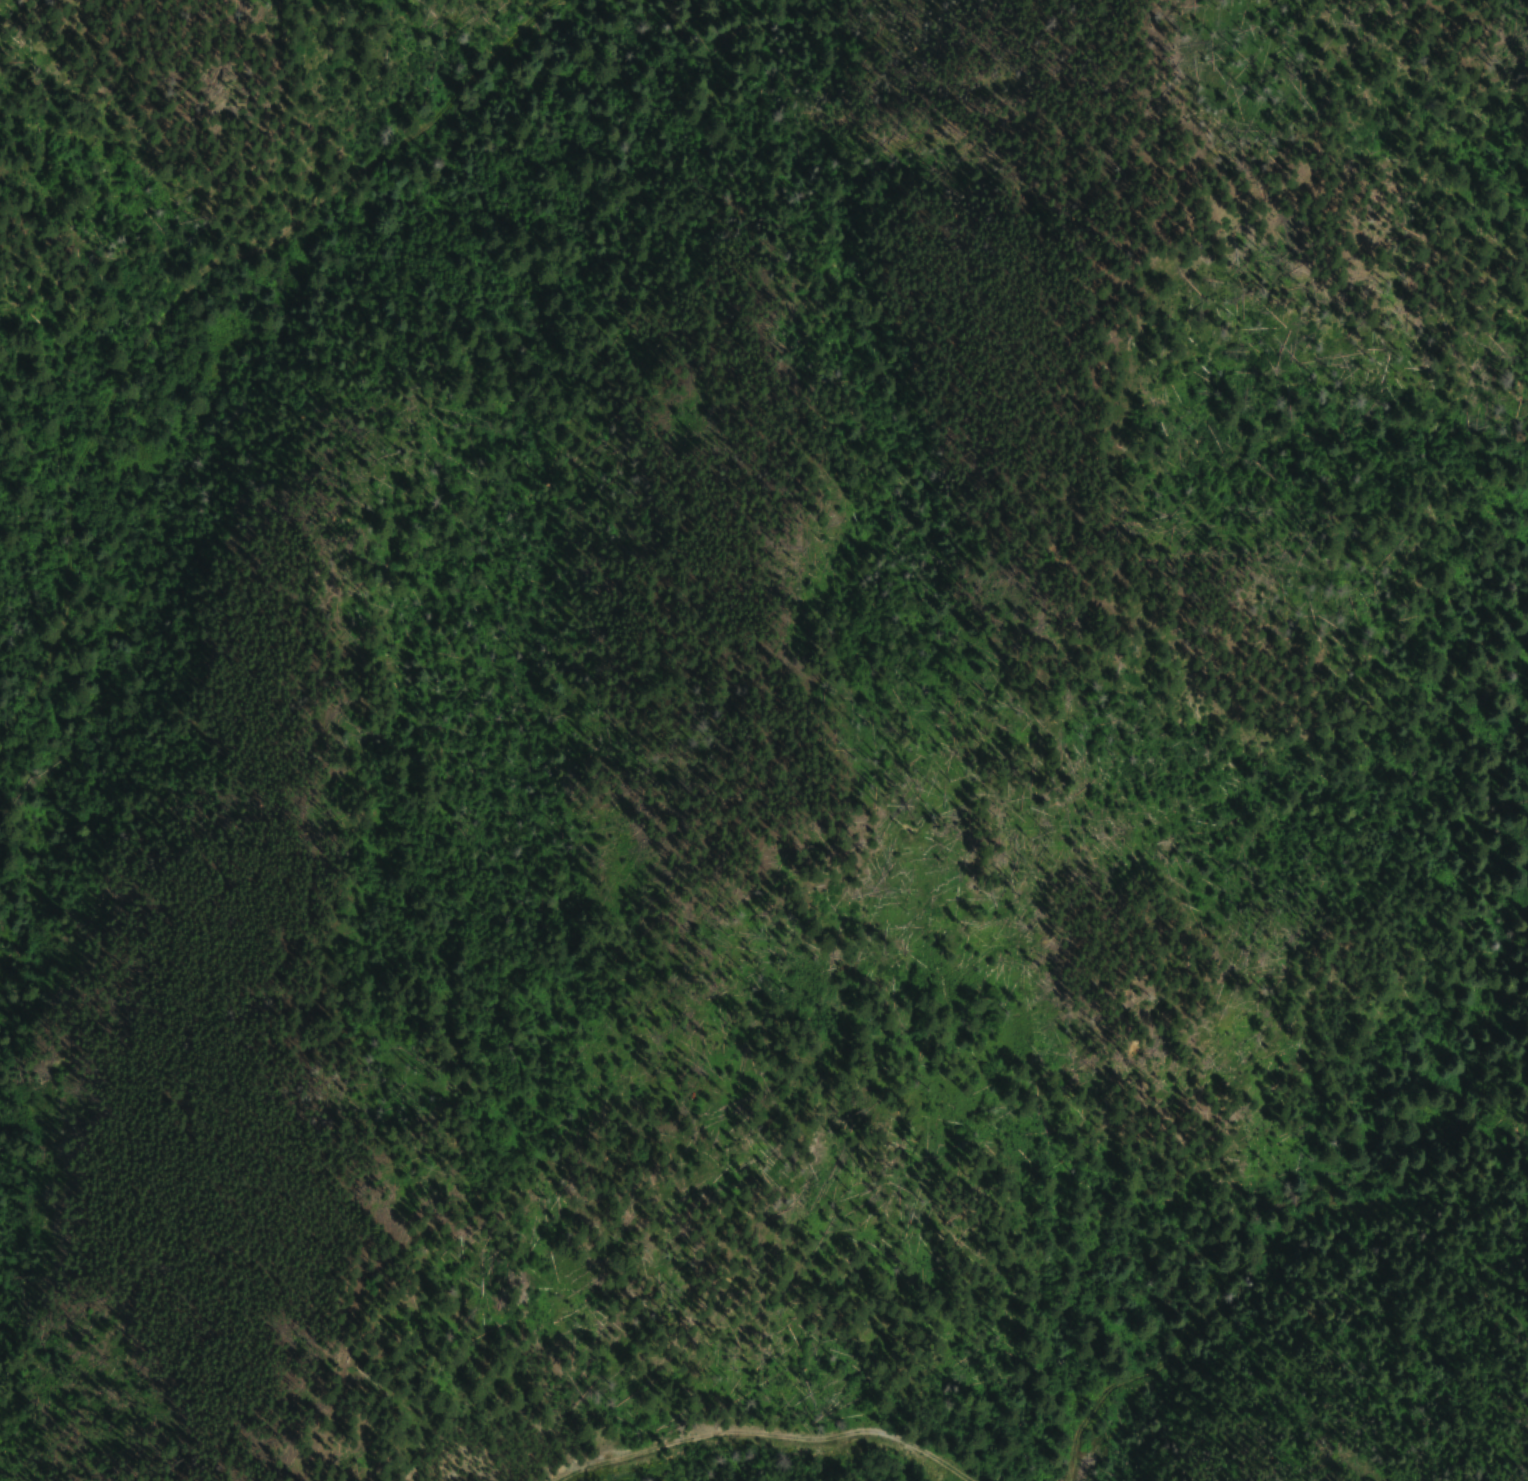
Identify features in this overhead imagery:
road: (1093, 1409)
road: (763, 1435)

